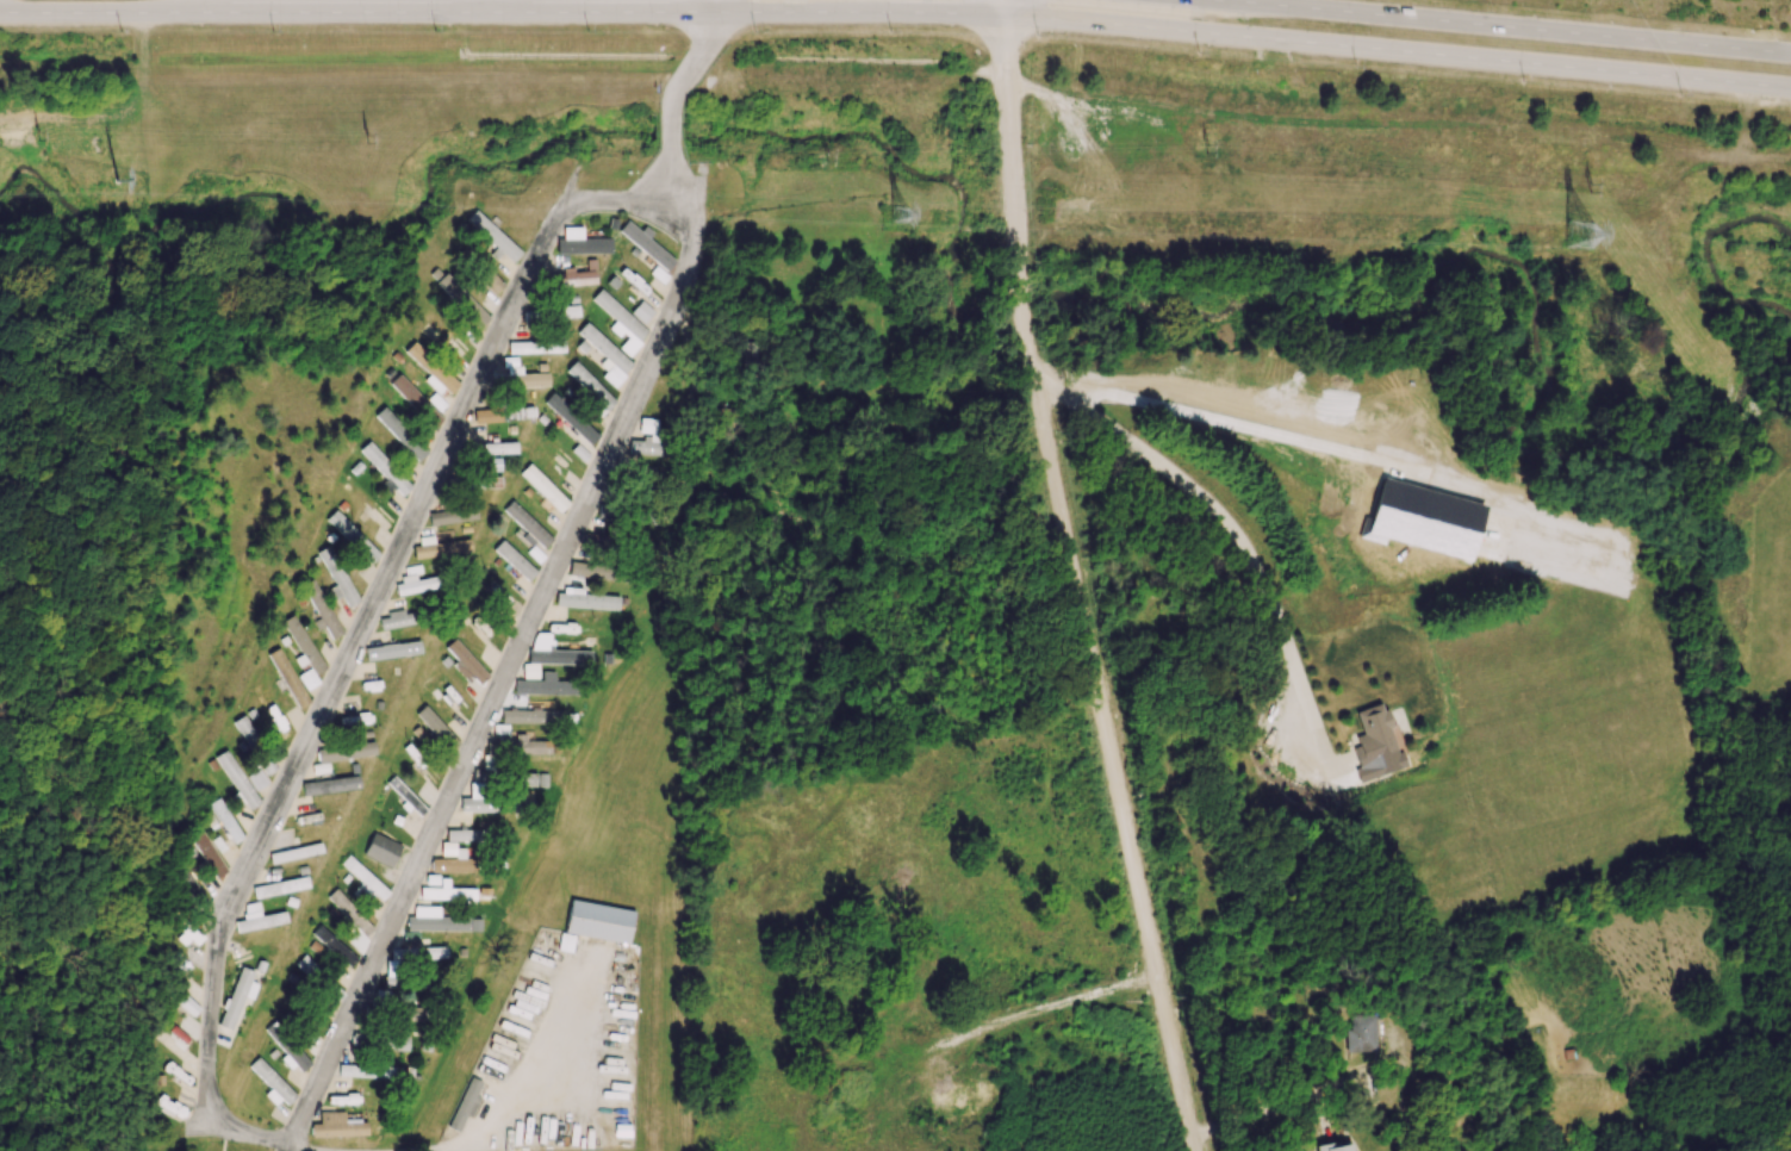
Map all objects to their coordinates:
road: (1003, 8)
road: (896, 11)
road: (1499, 26)
road: (671, 108)
power tower: (38, 138)
power tower: (359, 141)
power tower: (1213, 145)
power tower: (831, 160)
power tower: (105, 181)
power tower: (1600, 183)
power tower: (900, 213)
building: (493, 236)
power tower: (1585, 236)
building: (580, 243)
building: (645, 243)
building: (572, 278)
building: (461, 299)
building: (566, 311)
building: (618, 317)
building: (535, 347)
building: (607, 355)
building: (430, 371)
building: (518, 379)
building: (590, 387)
building: (415, 400)
building: (518, 412)
building: (486, 415)
road: (1235, 417)
building: (570, 418)
building: (400, 434)
building: (651, 436)
building: (491, 448)
building: (493, 465)
building: (385, 468)
building: (480, 483)
building: (543, 487)
park: (1718, 502)
building: (452, 516)
building: (527, 525)
building: (352, 536)
road: (1235, 539)
building: (441, 548)
building: (535, 554)
building: (514, 560)
building: (587, 575)
building: (336, 577)
building: (413, 581)
road: (1076, 586)
building: (586, 601)
building: (321, 610)
building: (397, 620)
building: (391, 651)
building: (554, 652)
building: (465, 662)
road: (939, 677)
building: (287, 678)
building: (307, 678)
building: (547, 685)
building: (354, 718)
building: (434, 726)
building: (244, 730)
building: (1373, 736)
building: (515, 747)
building: (344, 751)
building: (268, 766)
building: (256, 779)
building: (236, 780)
building: (329, 785)
building: (485, 802)
building: (226, 820)
building: (462, 835)
building: (381, 850)
building: (294, 853)
building: (209, 854)
building: (453, 864)
building: (365, 877)
building: (279, 886)
building: (447, 892)
building: (257, 919)
building: (352, 920)
building: (437, 920)
building: (598, 921)
building: (565, 942)
building: (335, 946)
building: (416, 948)
building: (306, 965)
building: (330, 990)
building: (236, 997)
building: (188, 1004)
building: (1354, 1034)
building: (394, 1043)
building: (368, 1071)
building: (270, 1083)
road: (515, 1088)
road: (1294, 1100)
building: (465, 1105)
road: (219, 1112)
building: (336, 1126)
road: (309, 1147)
building: (1332, 1147)

